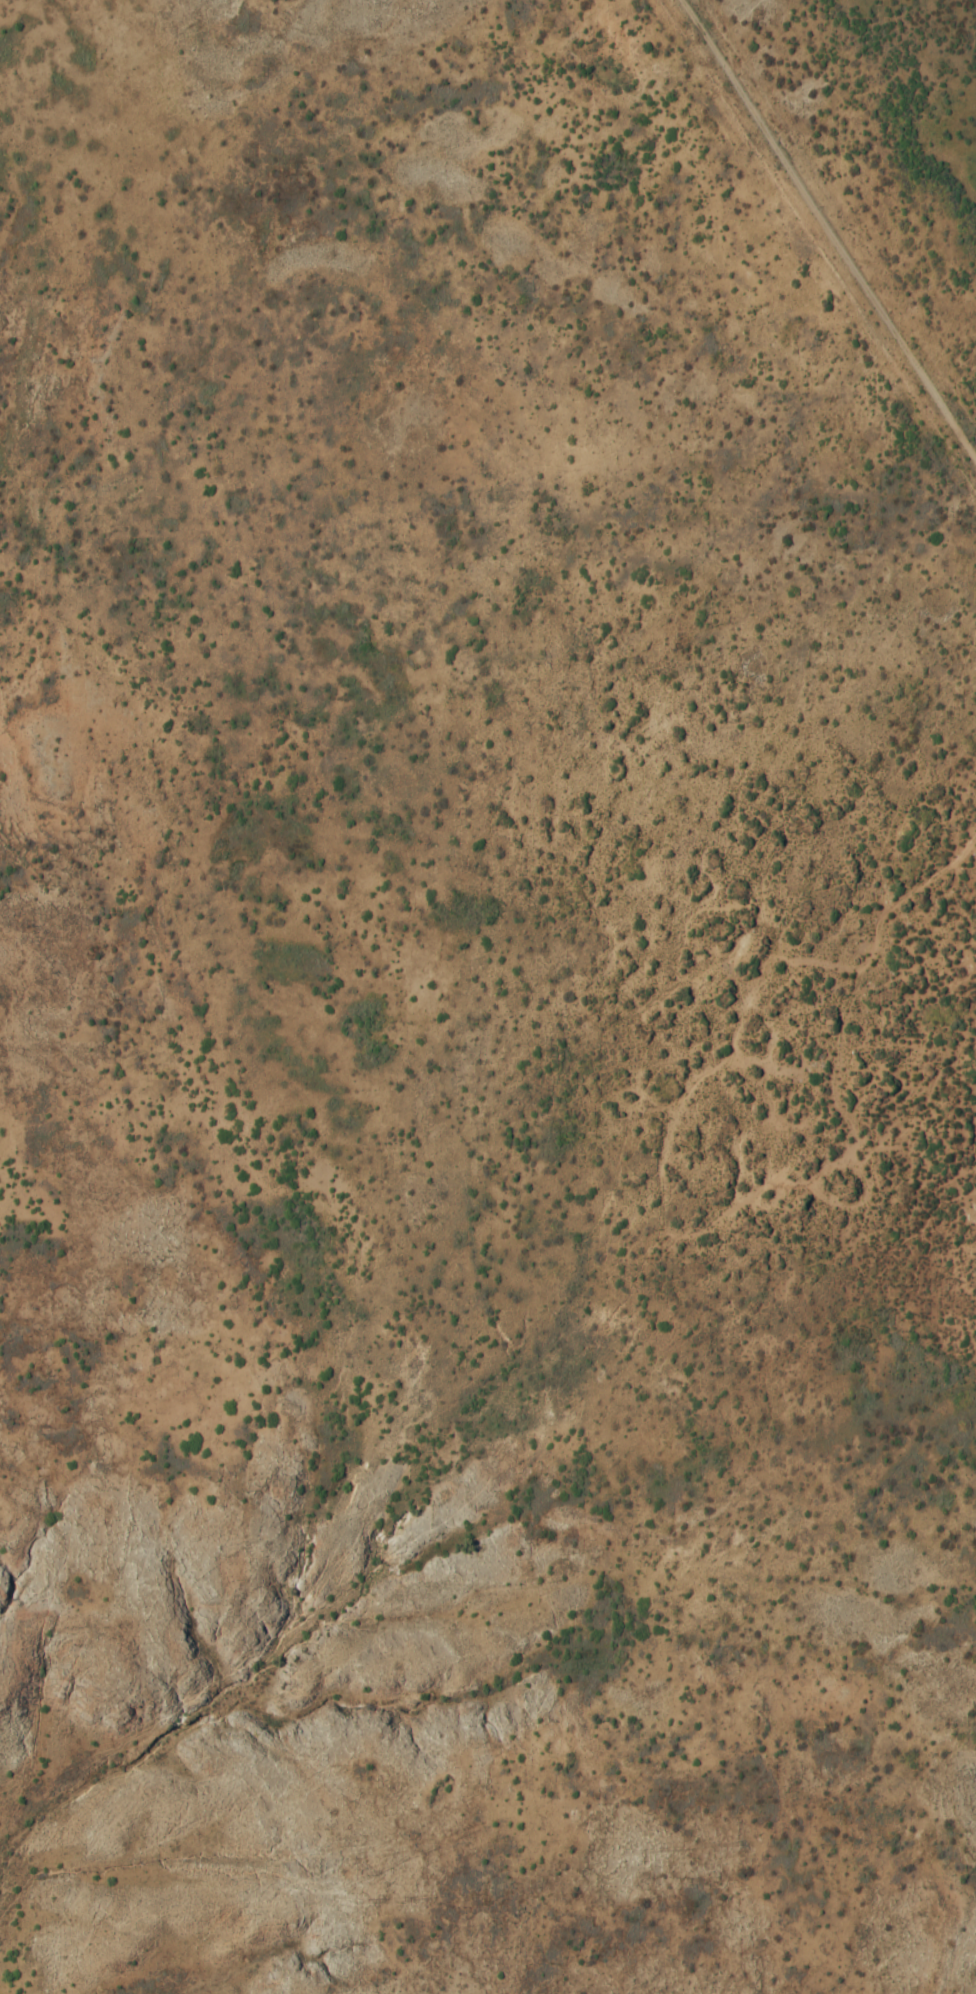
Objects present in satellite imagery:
road: (795, 258)

